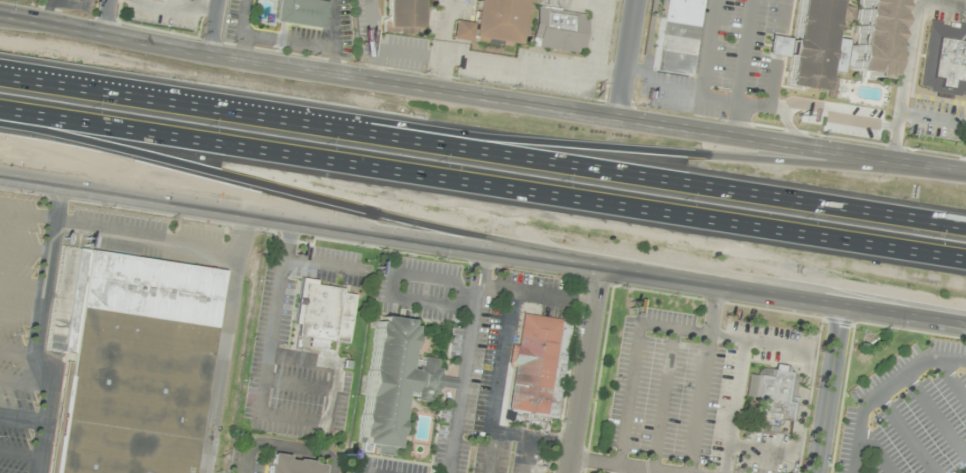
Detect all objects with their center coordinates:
road: (929, 0)
road: (578, 3)
road: (70, 4)
road: (48, 11)
building: (301, 12)
building: (403, 13)
building: (846, 13)
road: (110, 17)
road: (782, 17)
road: (904, 17)
building: (489, 22)
road: (370, 24)
road: (218, 28)
road: (459, 28)
building: (556, 29)
road: (650, 35)
building: (674, 36)
building: (871, 36)
road: (444, 44)
building: (812, 44)
road: (778, 45)
building: (779, 45)
road: (708, 48)
road: (407, 53)
road: (908, 57)
building: (944, 57)
road: (628, 58)
road: (375, 64)
road: (741, 67)
road: (555, 73)
road: (607, 73)
road: (773, 82)
road: (482, 96)
road: (718, 99)
road: (837, 116)
road: (933, 118)
road: (585, 145)
road: (483, 149)
road: (482, 188)
road: (299, 194)
road: (116, 236)
road: (421, 238)
road: (25, 246)
road: (22, 282)
road: (904, 312)
building: (322, 313)
road: (19, 317)
road: (37, 331)
road: (17, 349)
building: (136, 365)
building: (538, 365)
road: (582, 368)
building: (393, 383)
road: (25, 384)
road: (829, 388)
road: (882, 389)
building: (772, 395)
building: (904, 405)
road: (23, 418)
road: (20, 453)
building: (293, 465)

